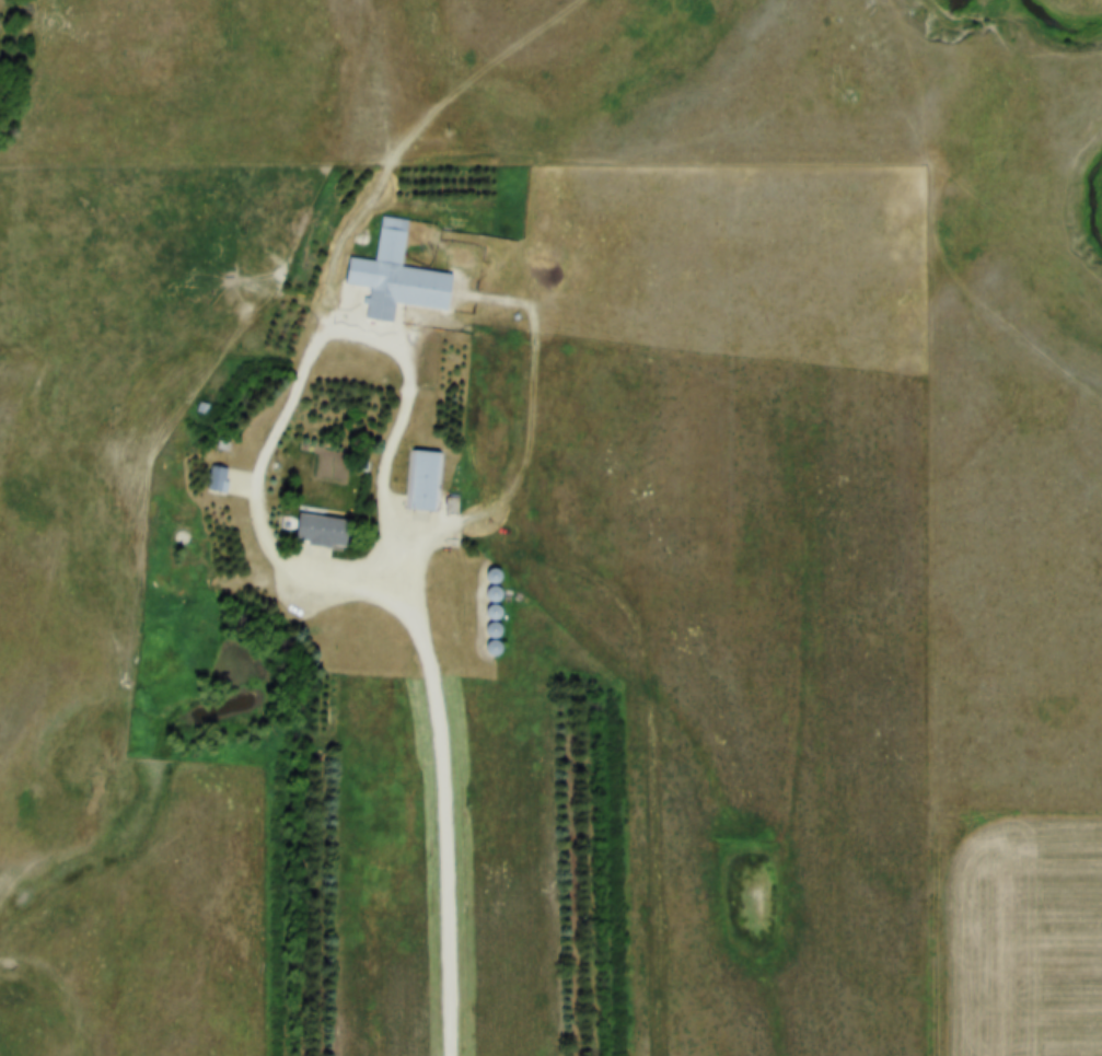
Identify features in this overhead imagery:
building: (399, 268)
road: (333, 286)
building: (219, 471)
building: (424, 472)
building: (325, 522)
road: (346, 572)
road: (437, 687)

